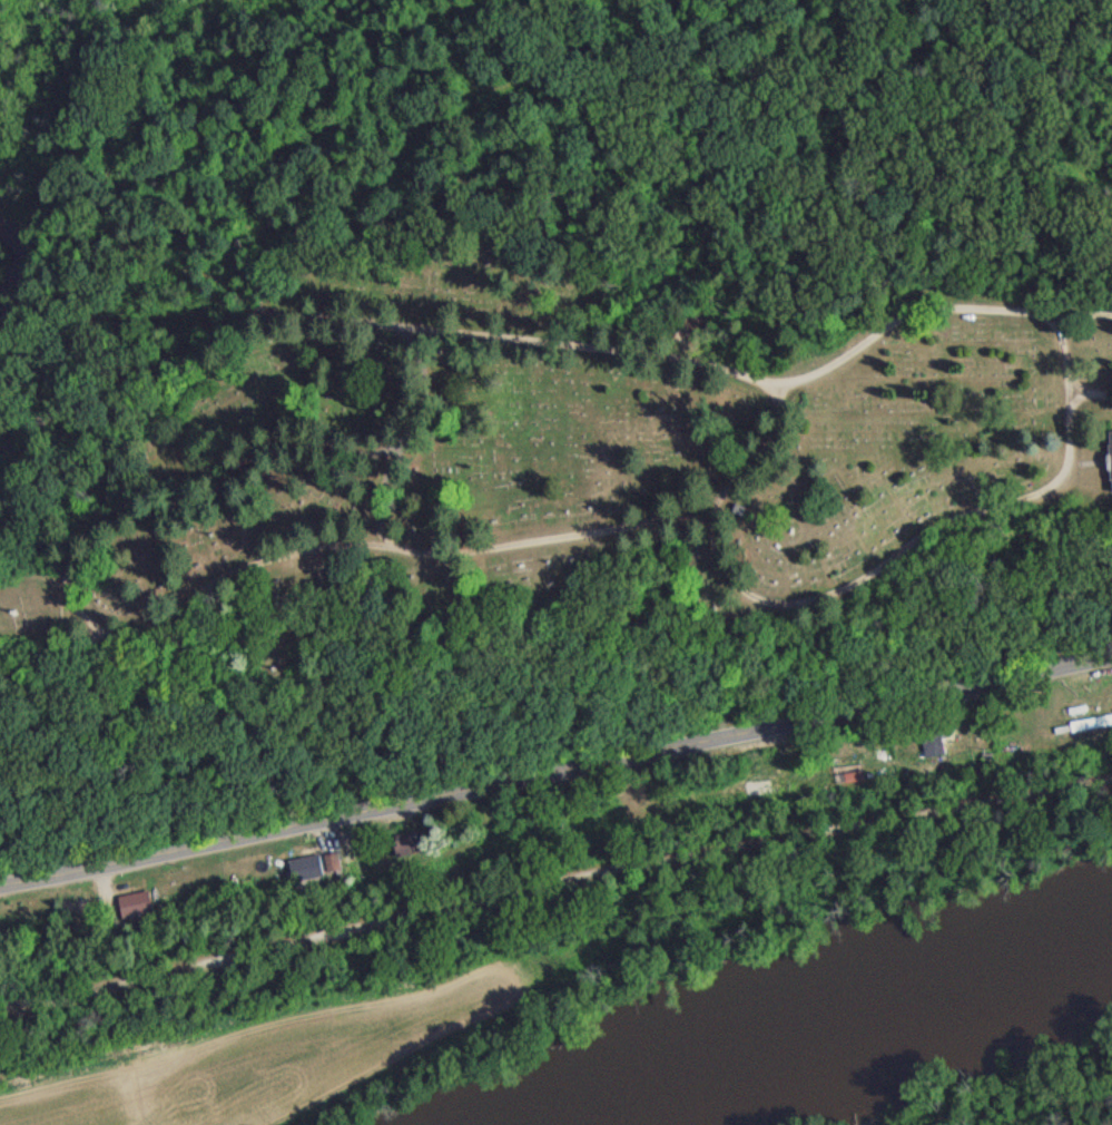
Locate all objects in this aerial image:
river: (17, 266)
road: (1081, 311)
road: (371, 346)
building: (1109, 466)
park: (514, 515)
road: (617, 529)
road: (898, 565)
building: (1089, 728)
building: (927, 742)
road: (555, 775)
building: (403, 849)
building: (304, 873)
road: (555, 903)
building: (131, 910)
building: (14, 929)
river: (830, 1014)

